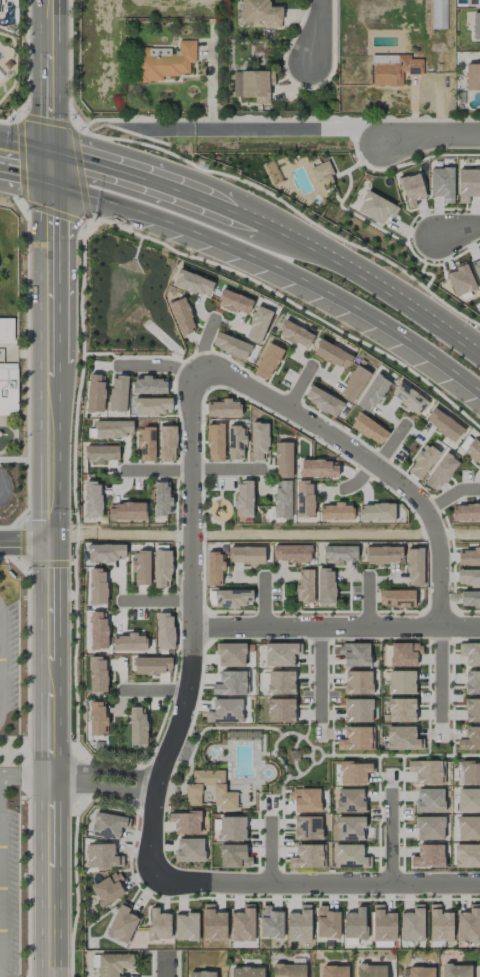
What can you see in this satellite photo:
building: (478, 2)
building: (261, 13)
building: (476, 25)
road: (319, 32)
road: (50, 59)
building: (164, 61)
building: (393, 69)
building: (473, 77)
building: (253, 85)
road: (130, 119)
road: (288, 128)
road: (50, 133)
road: (427, 135)
road: (25, 144)
traffic signals: (51, 148)
building: (322, 174)
building: (442, 183)
building: (468, 184)
building: (411, 189)
building: (376, 208)
road: (274, 234)
road: (456, 234)
road: (263, 267)
building: (460, 280)
building: (193, 283)
building: (234, 302)
building: (182, 316)
building: (257, 325)
building: (6, 329)
building: (295, 334)
road: (203, 342)
building: (230, 346)
road: (48, 347)
building: (332, 355)
building: (267, 362)
road: (155, 365)
building: (353, 383)
building: (148, 385)
road: (299, 387)
building: (8, 389)
building: (95, 393)
building: (372, 393)
building: (118, 394)
building: (409, 398)
building: (323, 401)
building: (152, 406)
building: (223, 408)
building: (443, 424)
building: (113, 429)
building: (369, 429)
building: (258, 441)
building: (215, 442)
building: (235, 442)
building: (166, 443)
building: (146, 444)
building: (473, 450)
building: (101, 454)
building: (283, 460)
road: (364, 460)
road: (378, 460)
building: (422, 461)
road: (190, 469)
building: (318, 469)
building: (440, 472)
road: (451, 495)
building: (162, 498)
building: (244, 498)
building: (92, 499)
building: (282, 499)
building: (304, 499)
building: (126, 511)
building: (335, 512)
building: (376, 512)
building: (465, 513)
road: (22, 546)
building: (105, 552)
building: (291, 553)
building: (340, 554)
building: (383, 554)
building: (246, 555)
building: (469, 556)
building: (414, 567)
building: (141, 568)
building: (162, 568)
building: (214, 569)
building: (468, 577)
building: (304, 586)
building: (325, 586)
building: (97, 587)
building: (232, 598)
building: (396, 598)
building: (470, 599)
road: (157, 600)
road: (264, 601)
road: (367, 602)
road: (335, 627)
building: (98, 630)
road: (191, 630)
building: (164, 631)
building: (129, 642)
building: (470, 653)
building: (281, 654)
building: (354, 654)
building: (404, 654)
building: (231, 655)
road: (46, 662)
building: (152, 665)
road: (319, 673)
road: (440, 673)
building: (97, 674)
building: (358, 682)
building: (401, 682)
building: (472, 682)
building: (230, 683)
building: (280, 683)
road: (153, 690)
building: (280, 710)
building: (358, 710)
building: (398, 710)
building: (472, 710)
building: (225, 711)
building: (97, 718)
building: (137, 726)
building: (402, 738)
building: (356, 739)
building: (354, 772)
building: (427, 772)
building: (470, 773)
road: (23, 778)
road: (100, 780)
building: (193, 790)
building: (305, 799)
building: (350, 800)
building: (429, 800)
building: (468, 800)
building: (185, 822)
building: (108, 825)
building: (232, 828)
building: (307, 828)
building: (350, 828)
building: (429, 828)
building: (468, 828)
road: (390, 838)
building: (189, 850)
road: (270, 851)
building: (102, 856)
building: (234, 856)
building: (350, 856)
building: (428, 856)
building: (467, 856)
road: (0, 877)
road: (48, 878)
road: (316, 883)
building: (108, 888)
building: (122, 923)
building: (270, 923)
building: (326, 923)
building: (213, 924)
building: (243, 924)
building: (299, 924)
building: (355, 924)
building: (383, 924)
building: (412, 924)
building: (440, 924)
building: (469, 924)
building: (158, 925)
building: (186, 926)
building: (114, 965)
road: (166, 966)
building: (288, 970)
building: (370, 970)
building: (334, 971)
building: (457, 971)
building: (247, 972)
building: (420, 972)
building: (202, 974)

